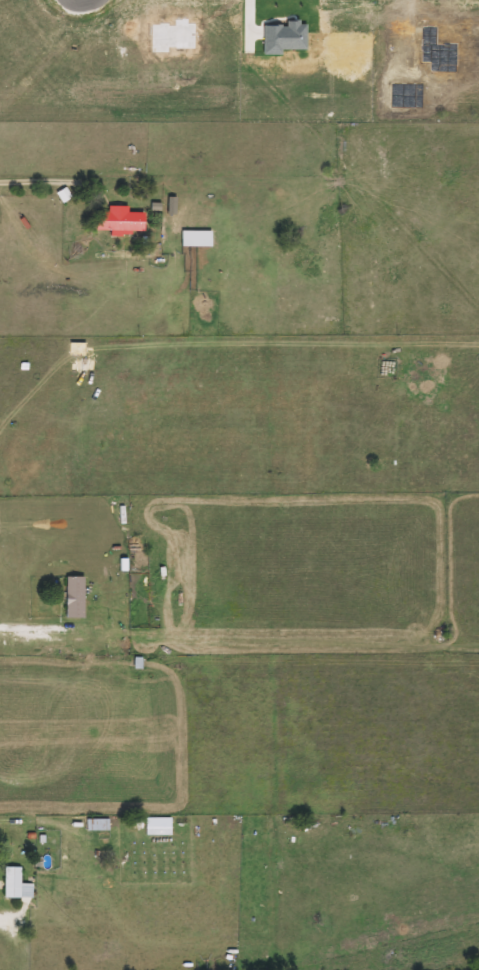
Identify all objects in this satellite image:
road: (38, 182)
building: (116, 221)
building: (193, 238)
building: (72, 598)
road: (30, 627)
building: (95, 825)
building: (156, 827)
building: (13, 884)

